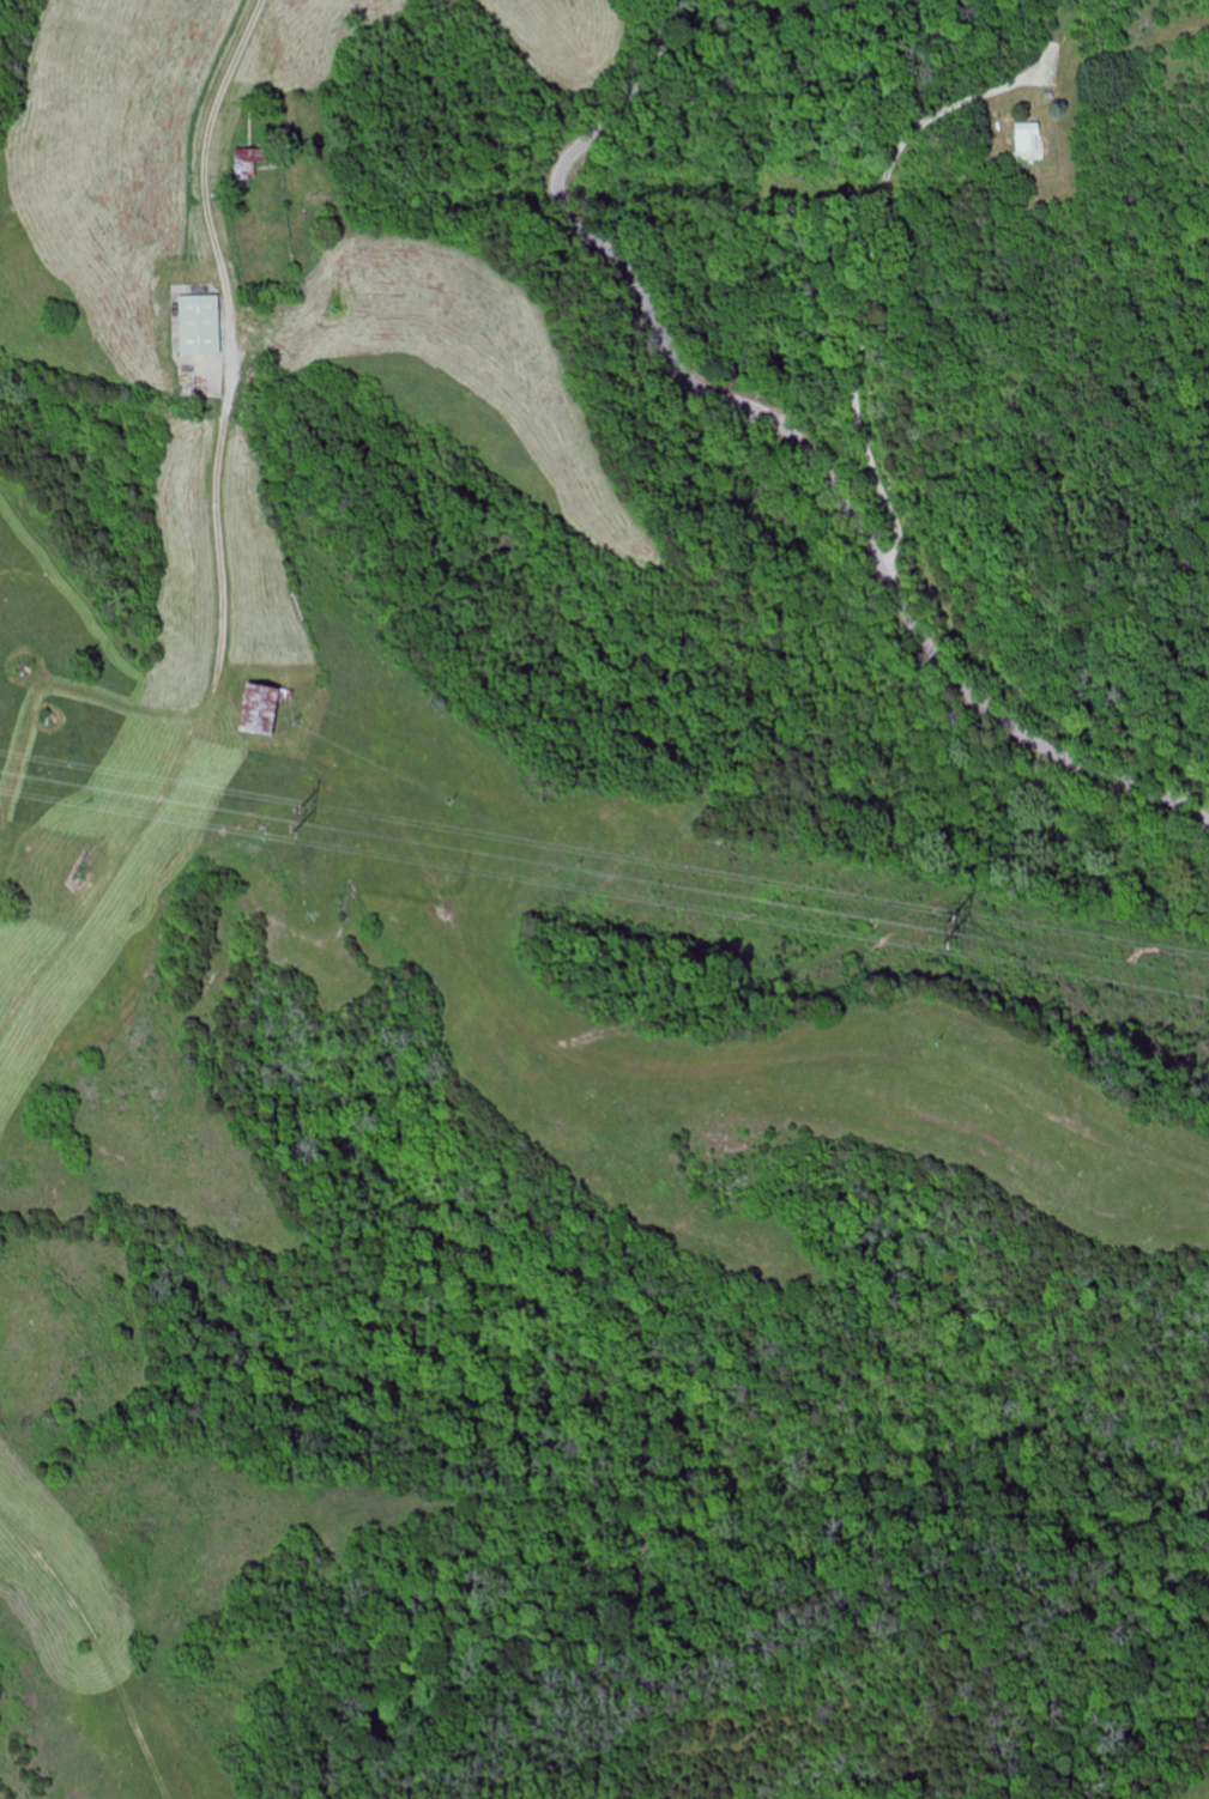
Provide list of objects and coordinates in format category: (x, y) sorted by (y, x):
building: (1030, 141)
road: (854, 248)
building: (204, 326)
road: (796, 436)
road: (218, 537)
building: (265, 711)
power tower: (297, 817)
power tower: (947, 926)
road: (109, 1621)

